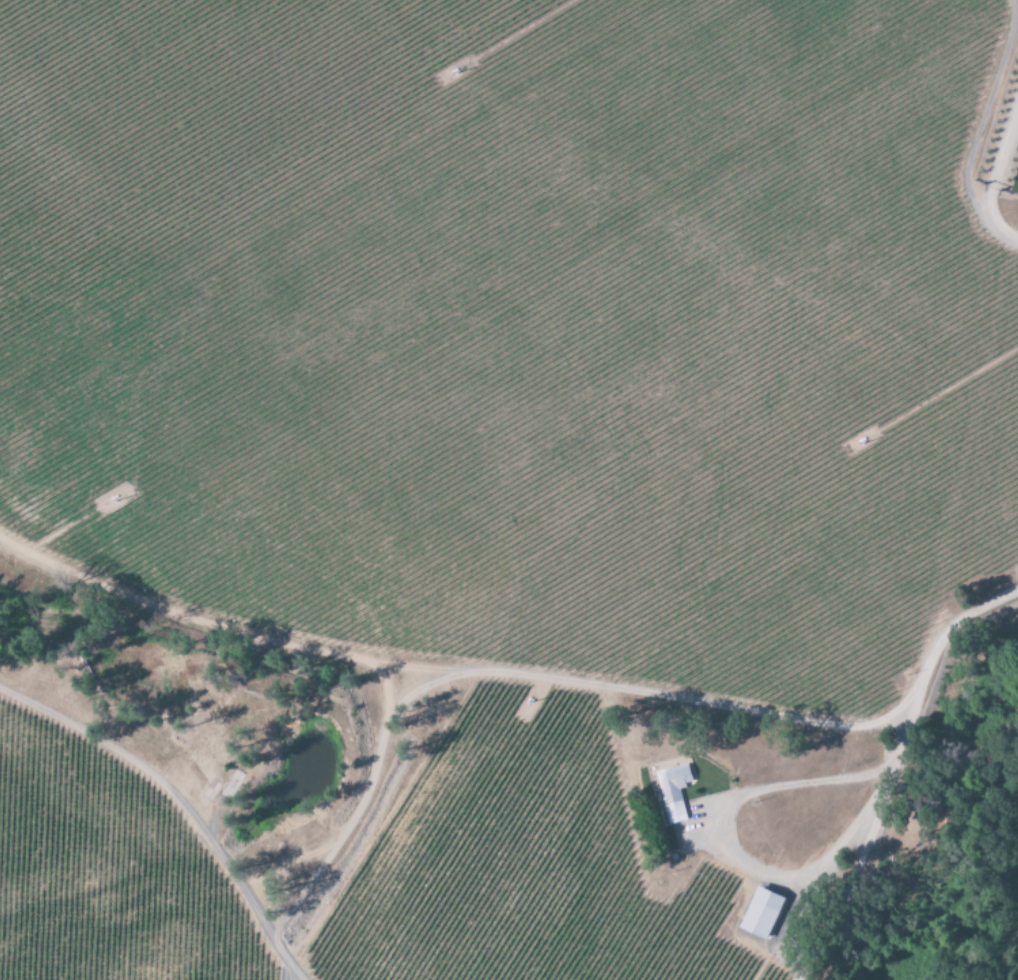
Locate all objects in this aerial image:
road: (954, 513)
building: (672, 793)
road: (720, 859)
building: (759, 915)

